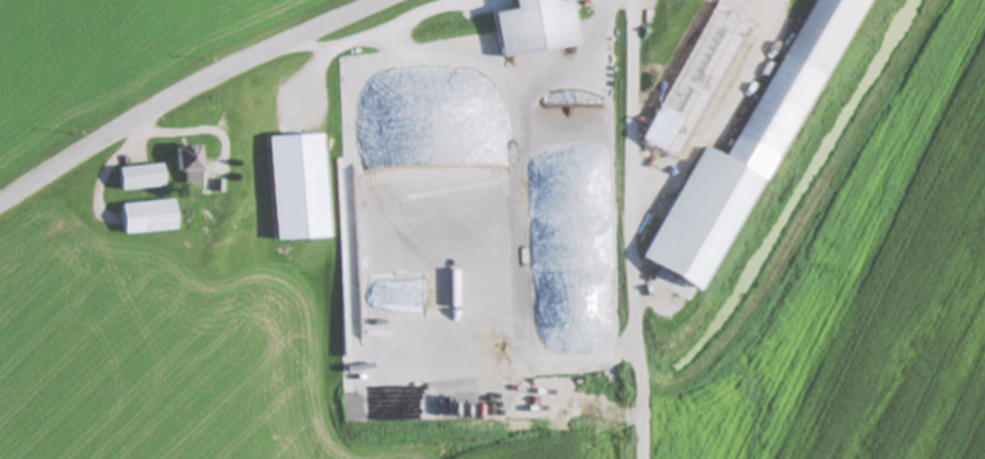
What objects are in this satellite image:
building: (534, 21)
road: (365, 35)
road: (506, 66)
building: (706, 83)
road: (201, 94)
road: (720, 110)
building: (748, 158)
building: (190, 162)
building: (141, 176)
building: (297, 186)
building: (149, 215)
road: (628, 229)

